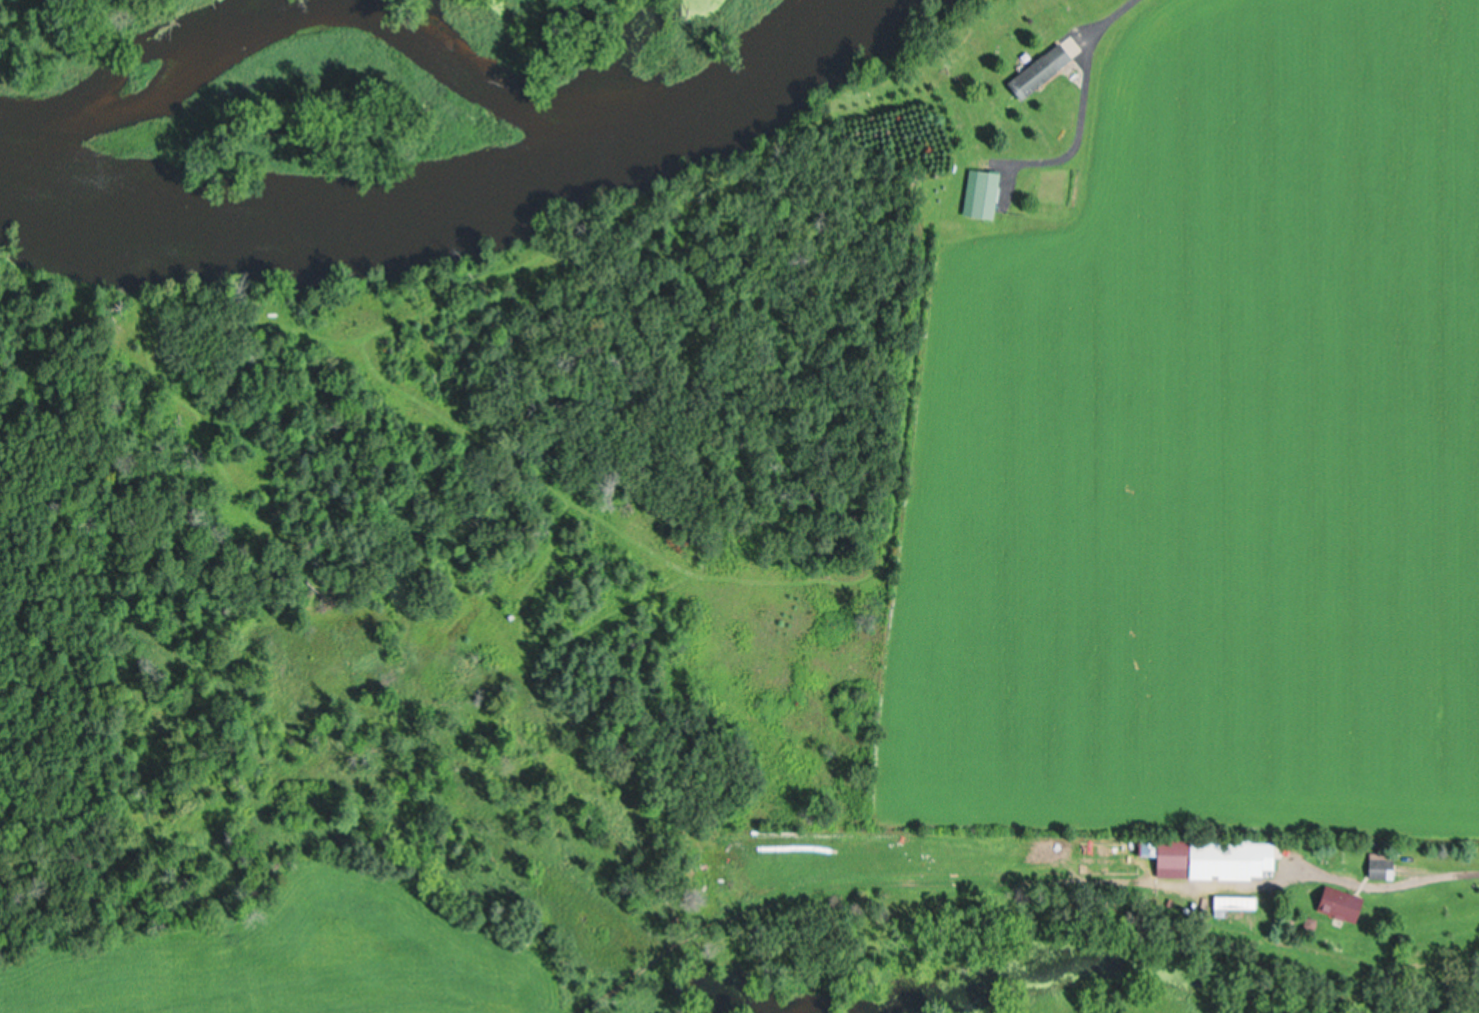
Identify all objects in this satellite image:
building: (1043, 72)
road: (1079, 96)
building: (989, 194)
river: (455, 206)
crop: (1210, 447)
building: (1175, 852)
building: (1385, 865)
crop: (295, 958)

